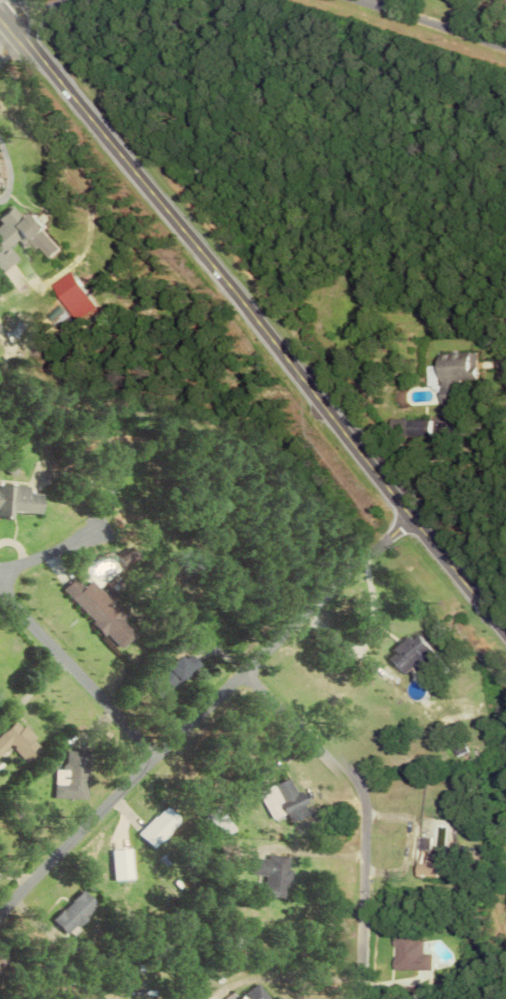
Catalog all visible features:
building: (358, 3)
road: (43, 16)
road: (429, 24)
road: (4, 43)
road: (14, 169)
building: (23, 238)
building: (71, 295)
road: (253, 317)
building: (457, 376)
building: (418, 426)
building: (21, 501)
road: (50, 549)
building: (132, 557)
building: (105, 611)
building: (421, 658)
building: (183, 670)
road: (82, 672)
road: (207, 719)
building: (455, 740)
building: (22, 742)
building: (78, 776)
building: (290, 802)
road: (366, 813)
building: (168, 827)
building: (436, 861)
building: (130, 865)
building: (280, 875)
road: (20, 876)
building: (82, 912)
building: (408, 952)
road: (302, 977)
building: (254, 994)

